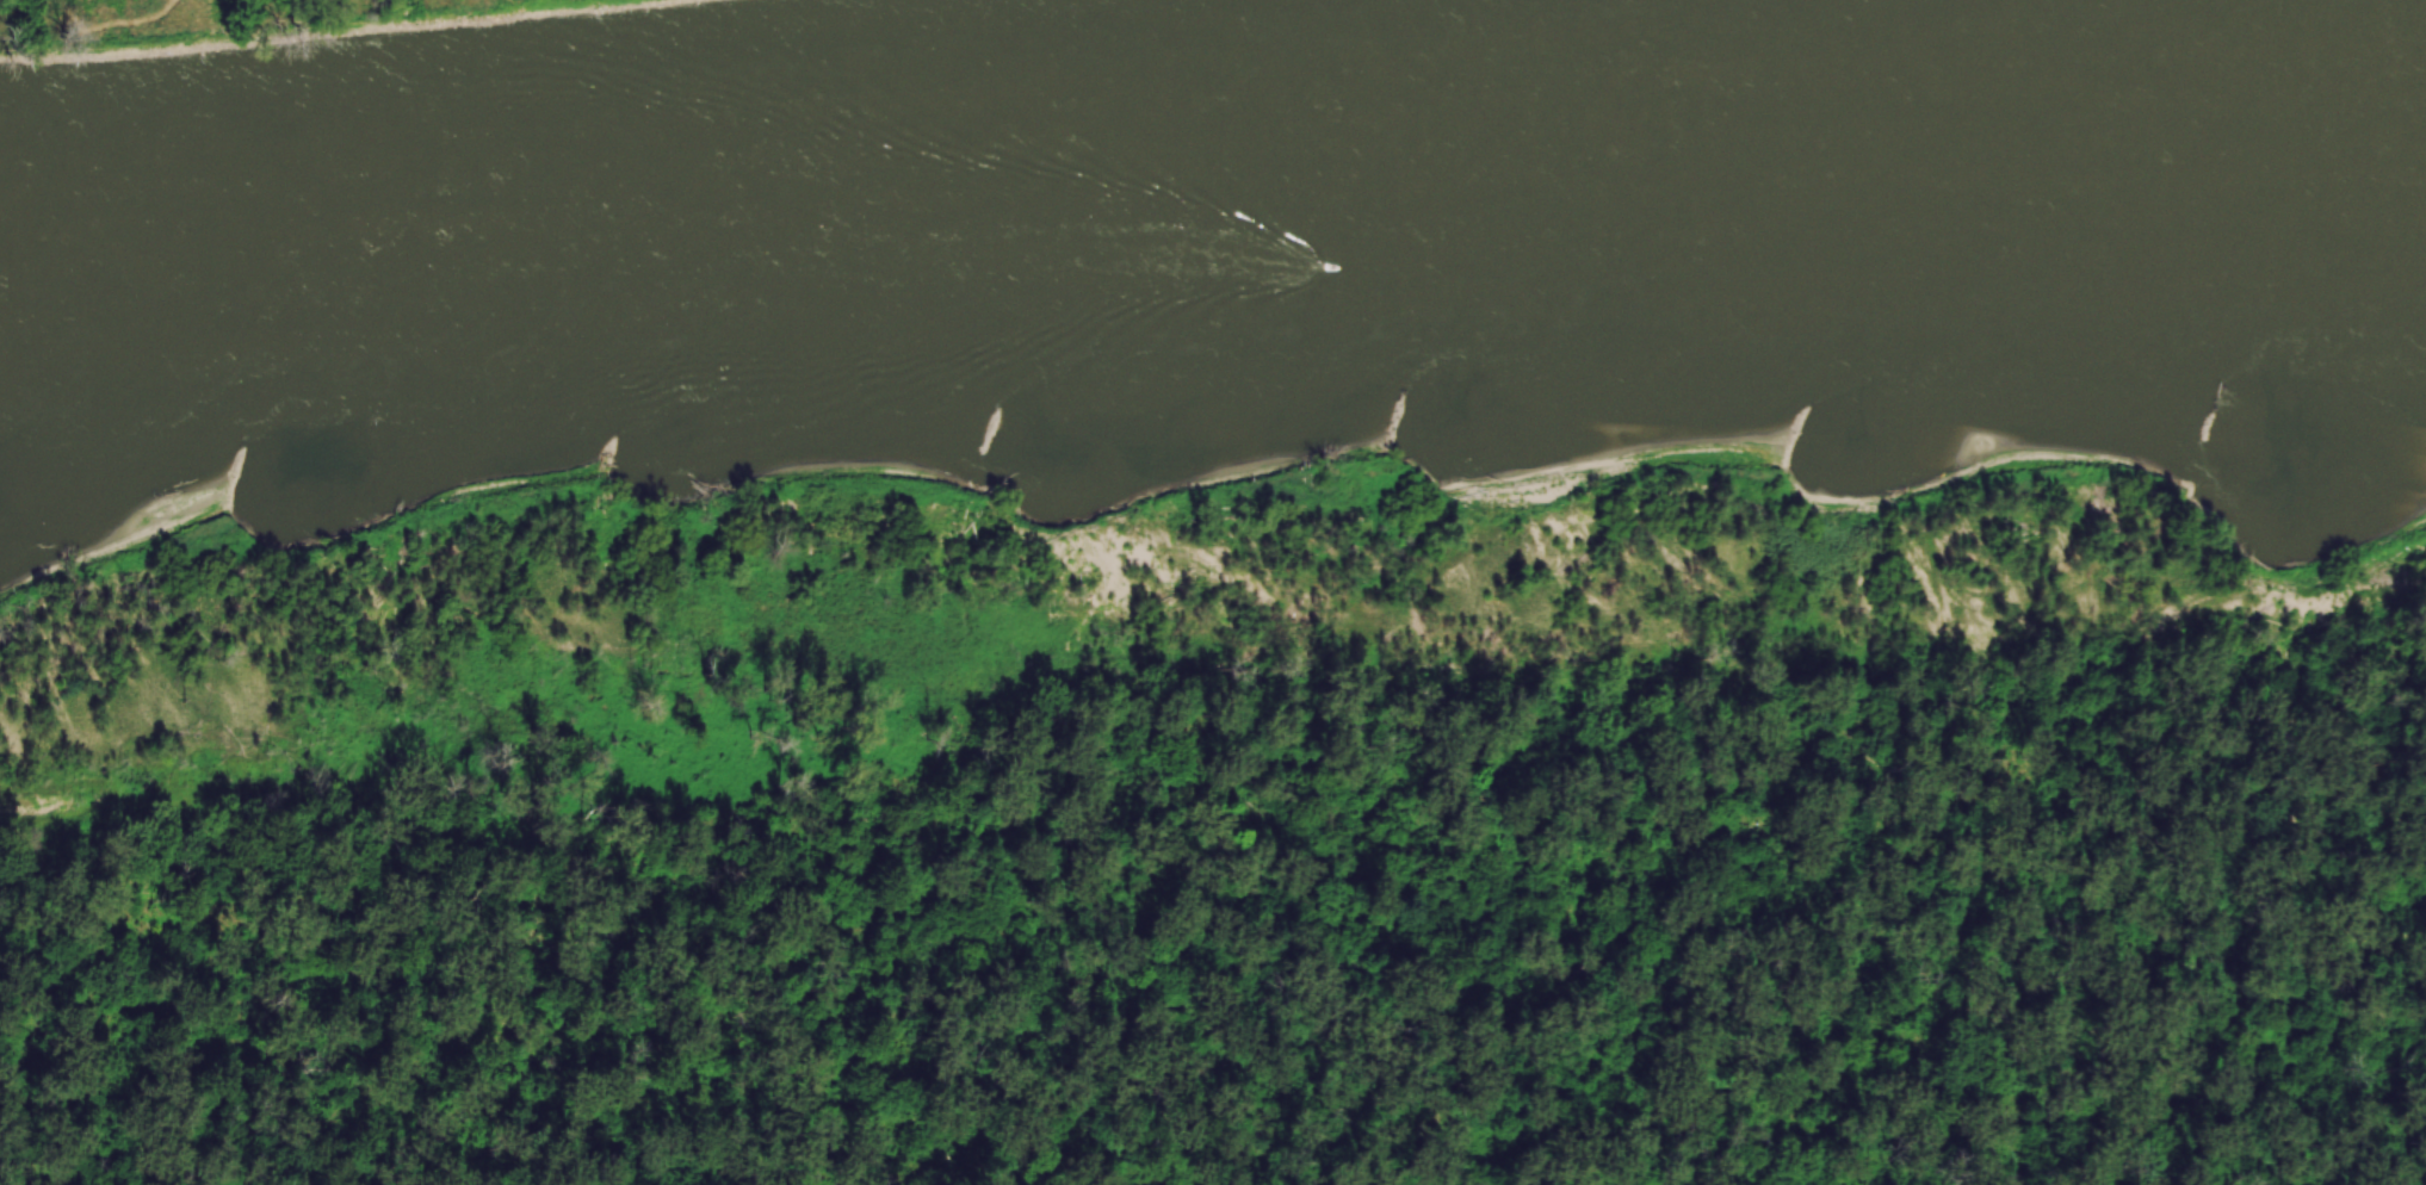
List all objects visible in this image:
river: (905, 118)
river: (1209, 225)

